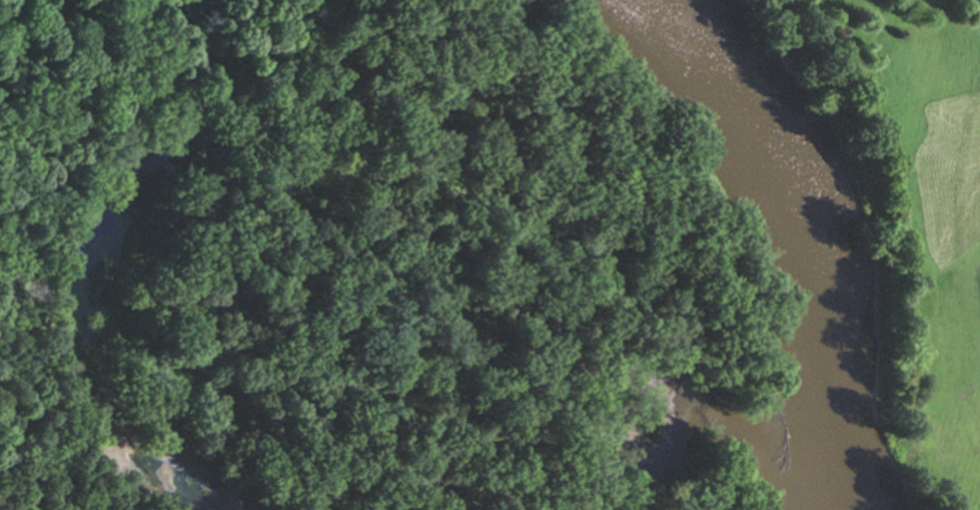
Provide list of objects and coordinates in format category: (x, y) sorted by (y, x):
river: (688, 55)
river: (816, 308)

